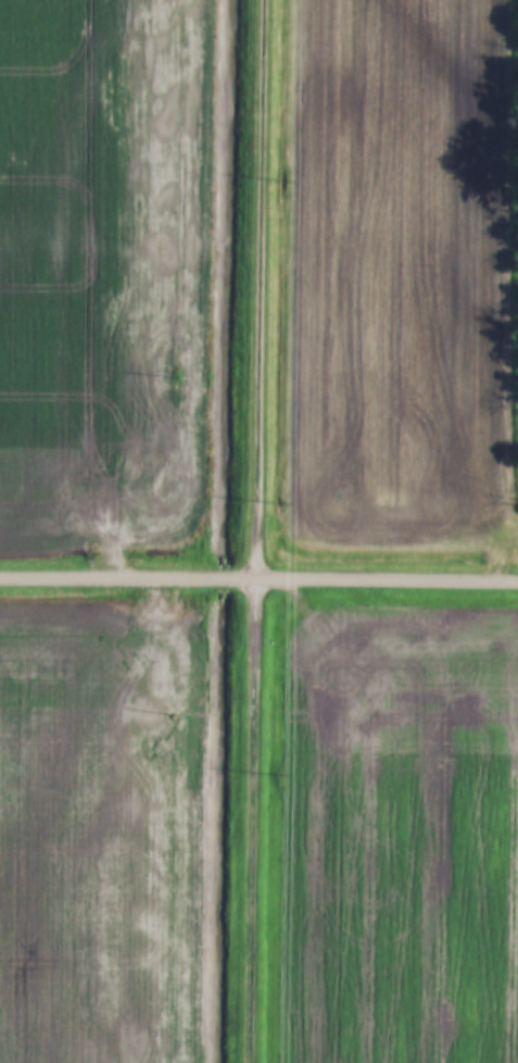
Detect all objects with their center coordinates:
road: (245, 530)
road: (258, 578)

